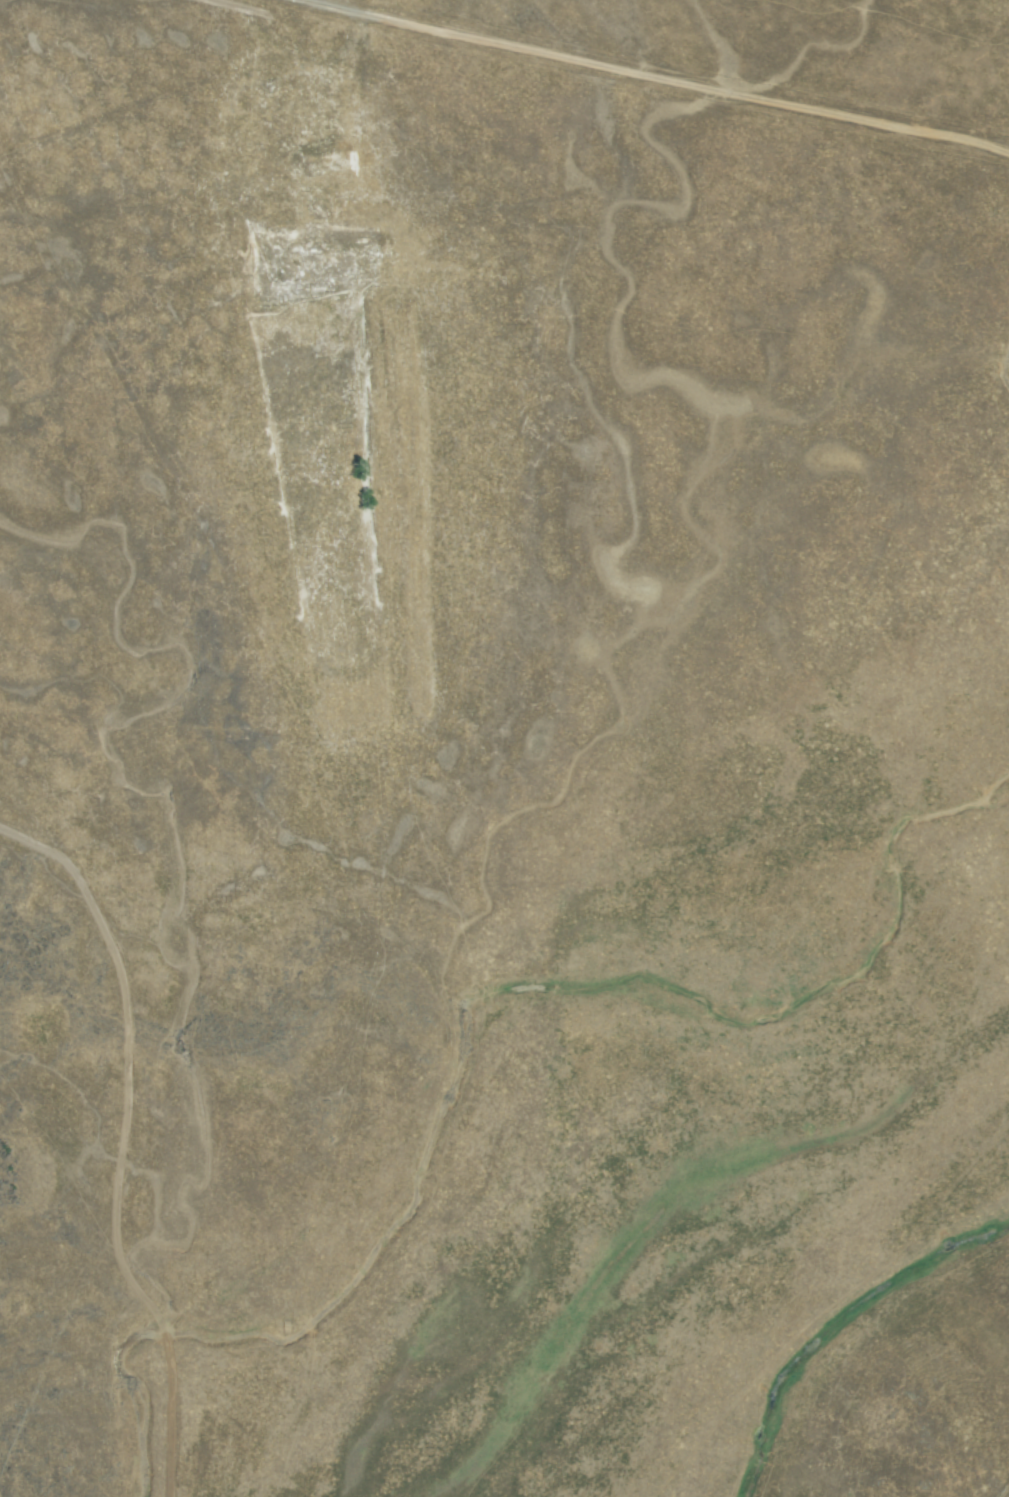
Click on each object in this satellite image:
road: (645, 78)
road: (253, 302)

